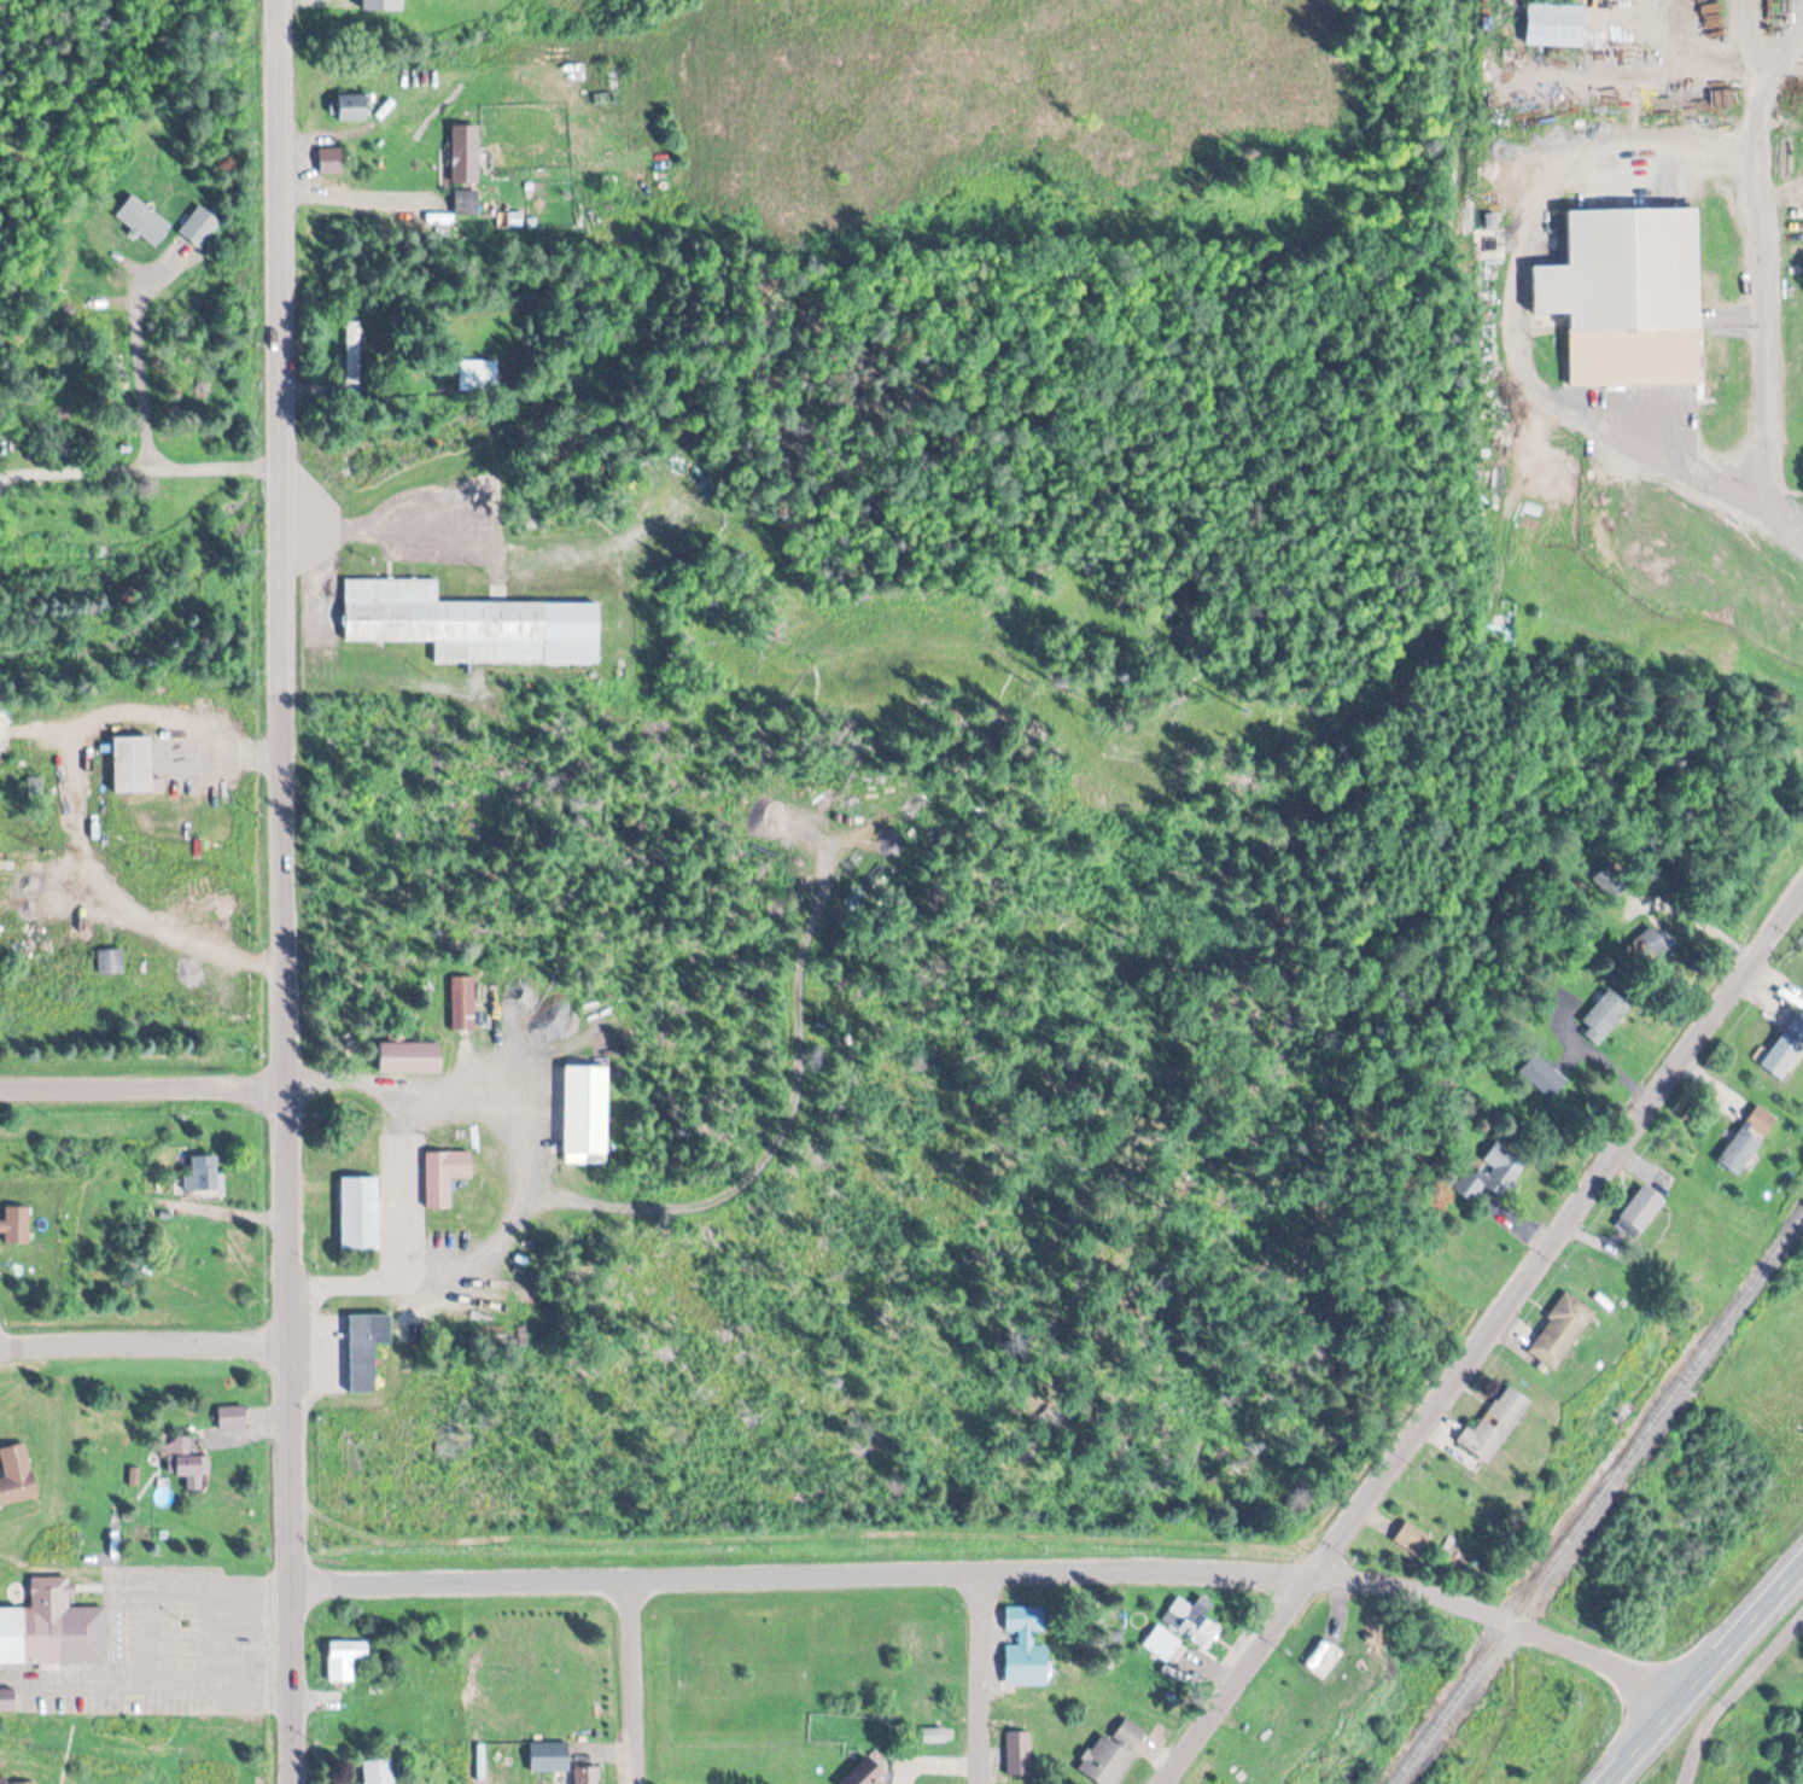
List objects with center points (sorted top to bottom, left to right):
building: (383, 4)
building: (355, 106)
building: (466, 155)
building: (332, 157)
building: (467, 203)
road: (1768, 273)
building: (1629, 291)
road: (279, 296)
building: (354, 355)
building: (479, 374)
road: (140, 471)
building: (471, 620)
building: (6, 730)
building: (134, 762)
building: (1614, 881)
building: (1650, 950)
building: (110, 958)
building: (463, 999)
building: (1604, 1016)
building: (1787, 1049)
building: (409, 1054)
building: (1544, 1074)
road: (144, 1086)
building: (587, 1107)
building: (1750, 1139)
building: (445, 1171)
building: (1493, 1171)
building: (204, 1173)
road: (288, 1188)
building: (362, 1211)
building: (1641, 1211)
building: (16, 1225)
building: (1562, 1330)
road: (1482, 1333)
road: (145, 1341)
building: (372, 1351)
building: (233, 1418)
building: (1495, 1426)
building: (187, 1459)
building: (17, 1476)
railway: (1600, 1500)
building: (1413, 1540)
road: (1003, 1572)
building: (1192, 1623)
building: (53, 1626)
building: (923, 1636)
building: (1163, 1644)
building: (1027, 1648)
building: (345, 1660)
road: (1704, 1672)
road: (635, 1678)
road: (988, 1678)
building: (7, 1698)
building: (924, 1719)
building: (1019, 1751)
building: (1113, 1755)
building: (550, 1756)
building: (379, 1771)
building: (868, 1772)
building: (589, 1774)
building: (18, 1780)

